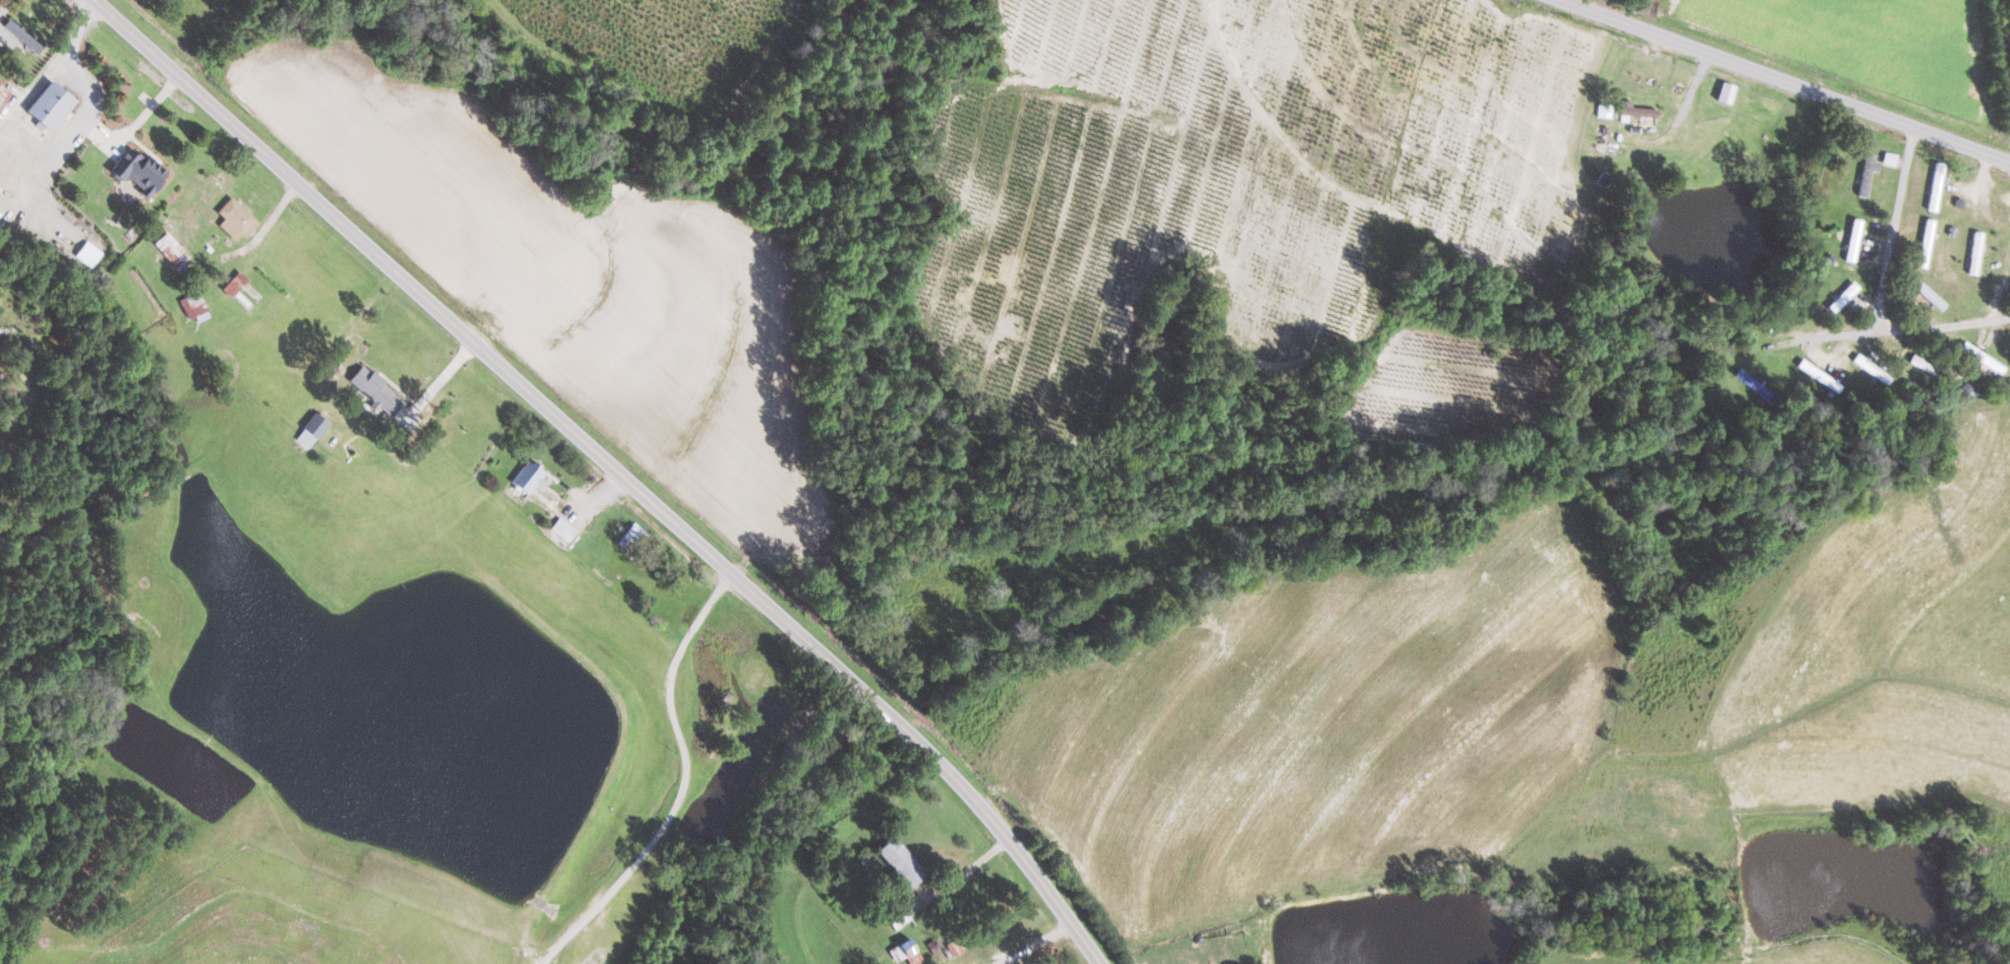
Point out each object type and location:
building: (22, 35)
road: (51, 69)
road: (1777, 83)
building: (1726, 91)
building: (3, 95)
building: (50, 104)
building: (1635, 110)
road: (95, 122)
building: (137, 170)
building: (1867, 174)
road: (1986, 183)
building: (1935, 187)
building: (235, 219)
road: (266, 227)
road: (1890, 233)
building: (1853, 240)
building: (171, 251)
building: (88, 253)
building: (234, 283)
road: (2001, 287)
building: (194, 306)
road: (1939, 329)
road: (1794, 347)
building: (1983, 357)
road: (445, 377)
building: (376, 390)
building: (311, 430)
road: (604, 467)
building: (528, 478)
building: (564, 529)
road: (686, 787)
building: (900, 863)
road: (964, 874)
road: (1033, 945)
building: (905, 952)

